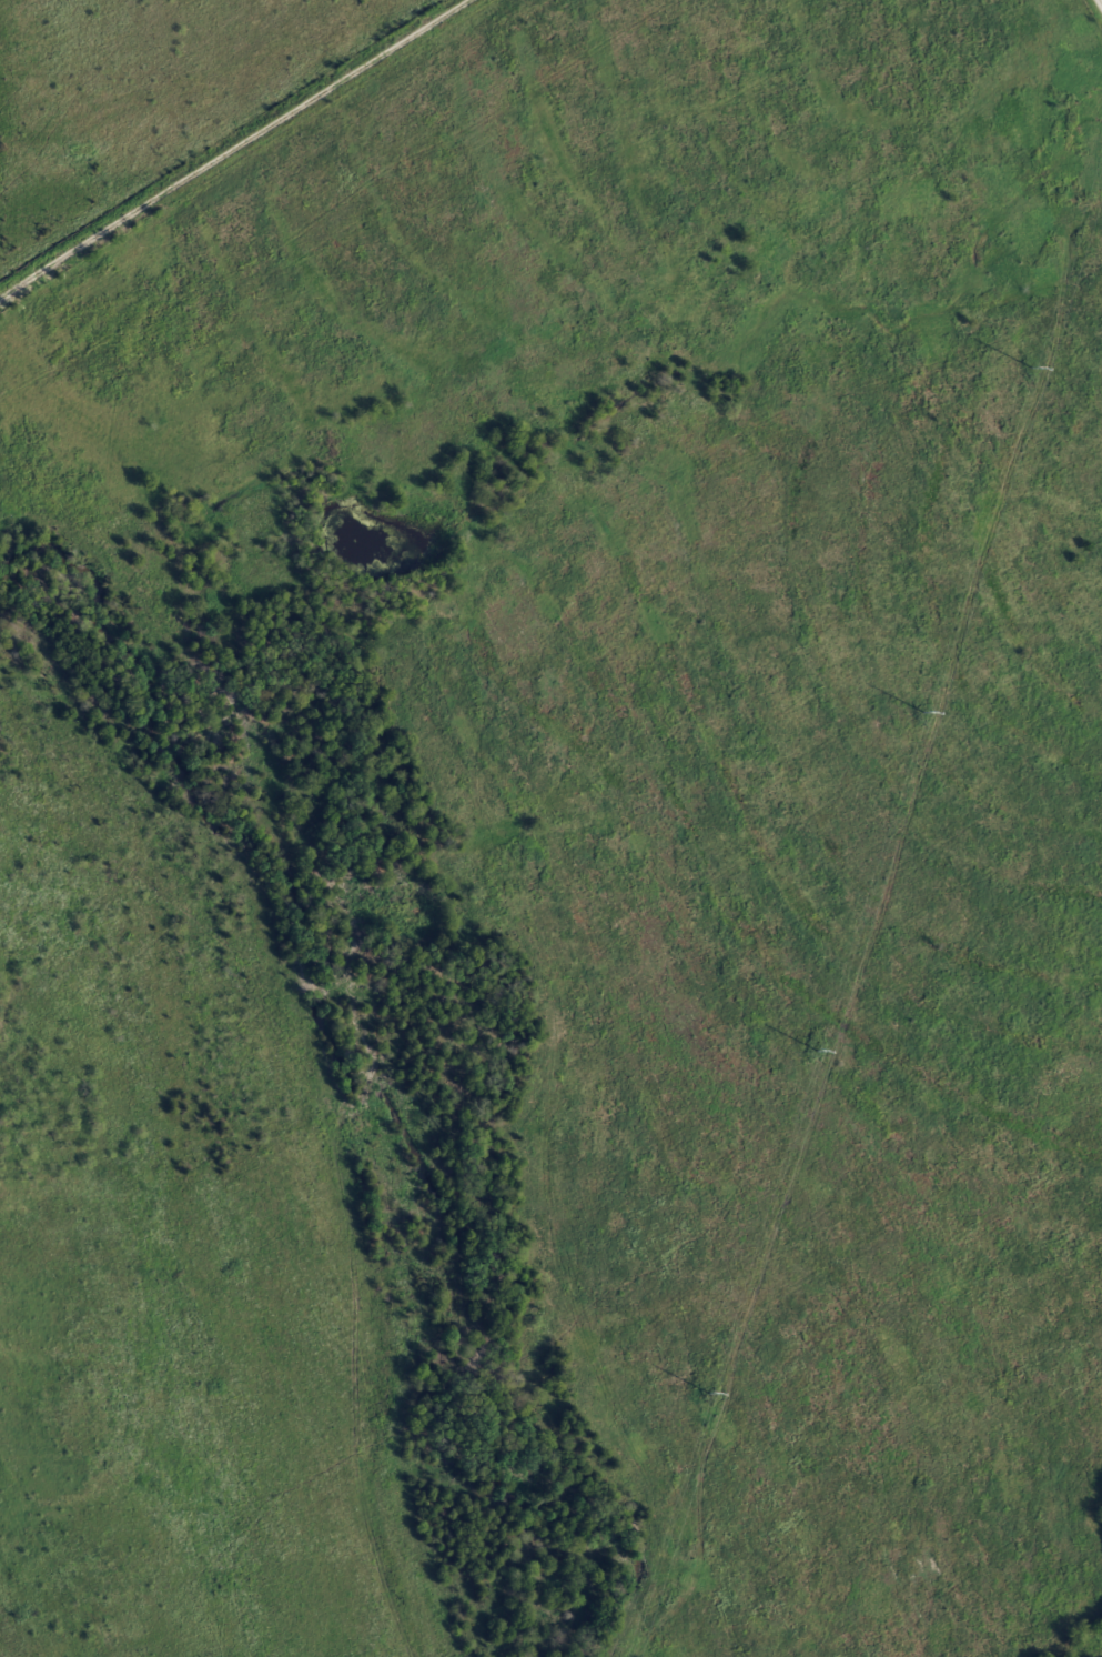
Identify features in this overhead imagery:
road: (1099, 4)
road: (232, 148)
power tower: (1031, 366)
power tower: (922, 711)
power tower: (817, 1050)
power tower: (709, 1394)

